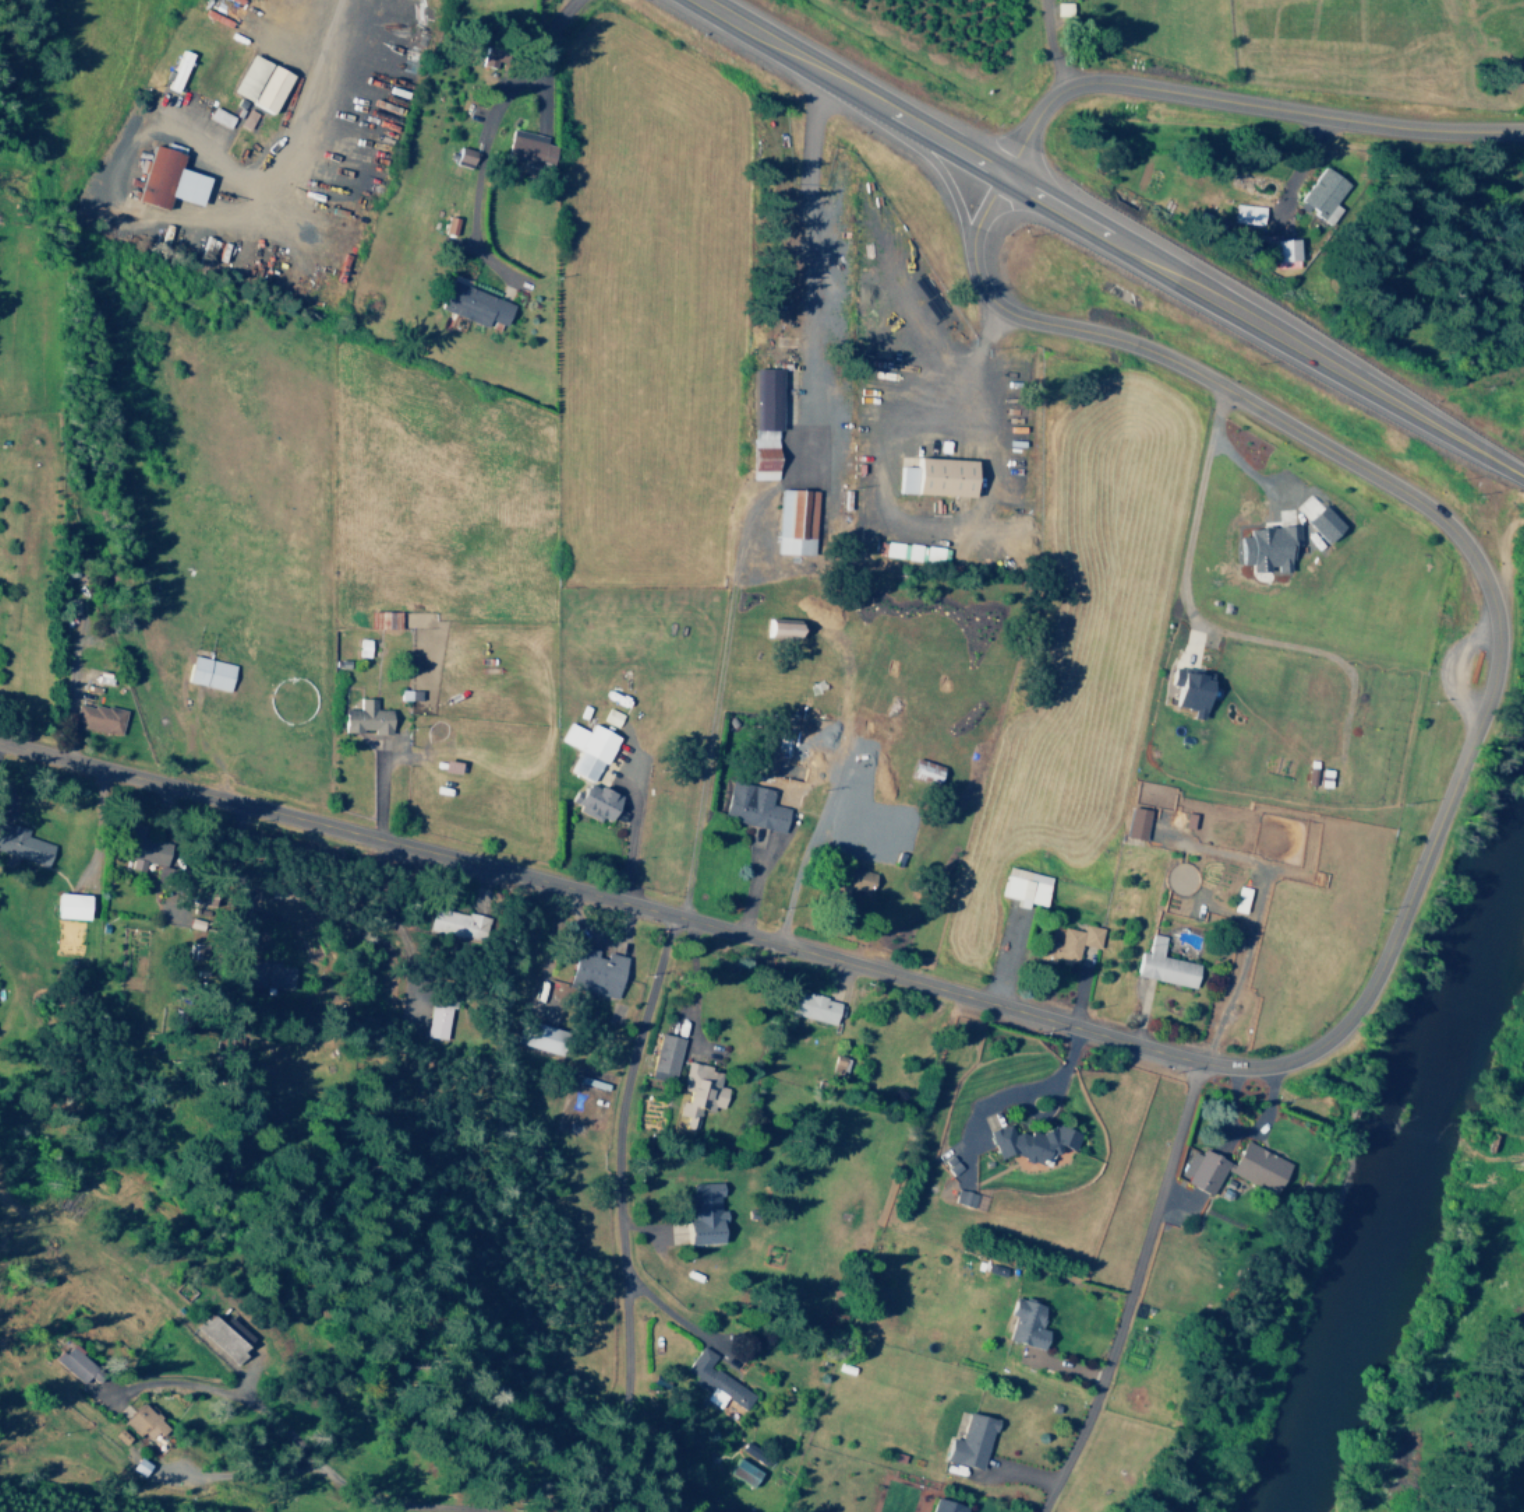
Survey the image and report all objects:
building: (1059, 8)
building: (244, 77)
building: (264, 89)
road: (1238, 105)
building: (216, 117)
building: (244, 118)
road: (485, 142)
building: (526, 149)
building: (461, 154)
building: (160, 181)
building: (1319, 194)
building: (1245, 214)
road: (1108, 239)
building: (1281, 253)
building: (1523, 270)
building: (469, 305)
building: (760, 421)
building: (933, 477)
building: (791, 522)
building: (1316, 525)
building: (1263, 547)
road: (1197, 619)
building: (775, 629)
building: (364, 647)
building: (211, 673)
building: (1185, 690)
building: (612, 717)
building: (99, 718)
building: (367, 718)
building: (589, 748)
building: (928, 770)
building: (597, 801)
building: (754, 806)
building: (1133, 823)
building: (23, 844)
building: (150, 851)
building: (861, 879)
building: (1020, 886)
building: (1235, 899)
building: (73, 905)
building: (455, 923)
building: (1064, 943)
building: (1160, 965)
building: (598, 971)
building: (271, 975)
building: (815, 1007)
building: (437, 1018)
building: (543, 1037)
building: (665, 1057)
road: (1255, 1068)
building: (700, 1092)
building: (1028, 1143)
building: (1254, 1166)
building: (1200, 1172)
river: (1399, 1182)
building: (961, 1197)
road: (624, 1213)
building: (706, 1214)
road: (1128, 1291)
building: (1021, 1323)
building: (226, 1336)
road: (1511, 1352)
building: (85, 1374)
building: (715, 1381)
road: (469, 1406)
building: (144, 1422)
building: (119, 1436)
building: (973, 1440)
road: (1472, 1446)
building: (744, 1472)
building: (947, 1506)

